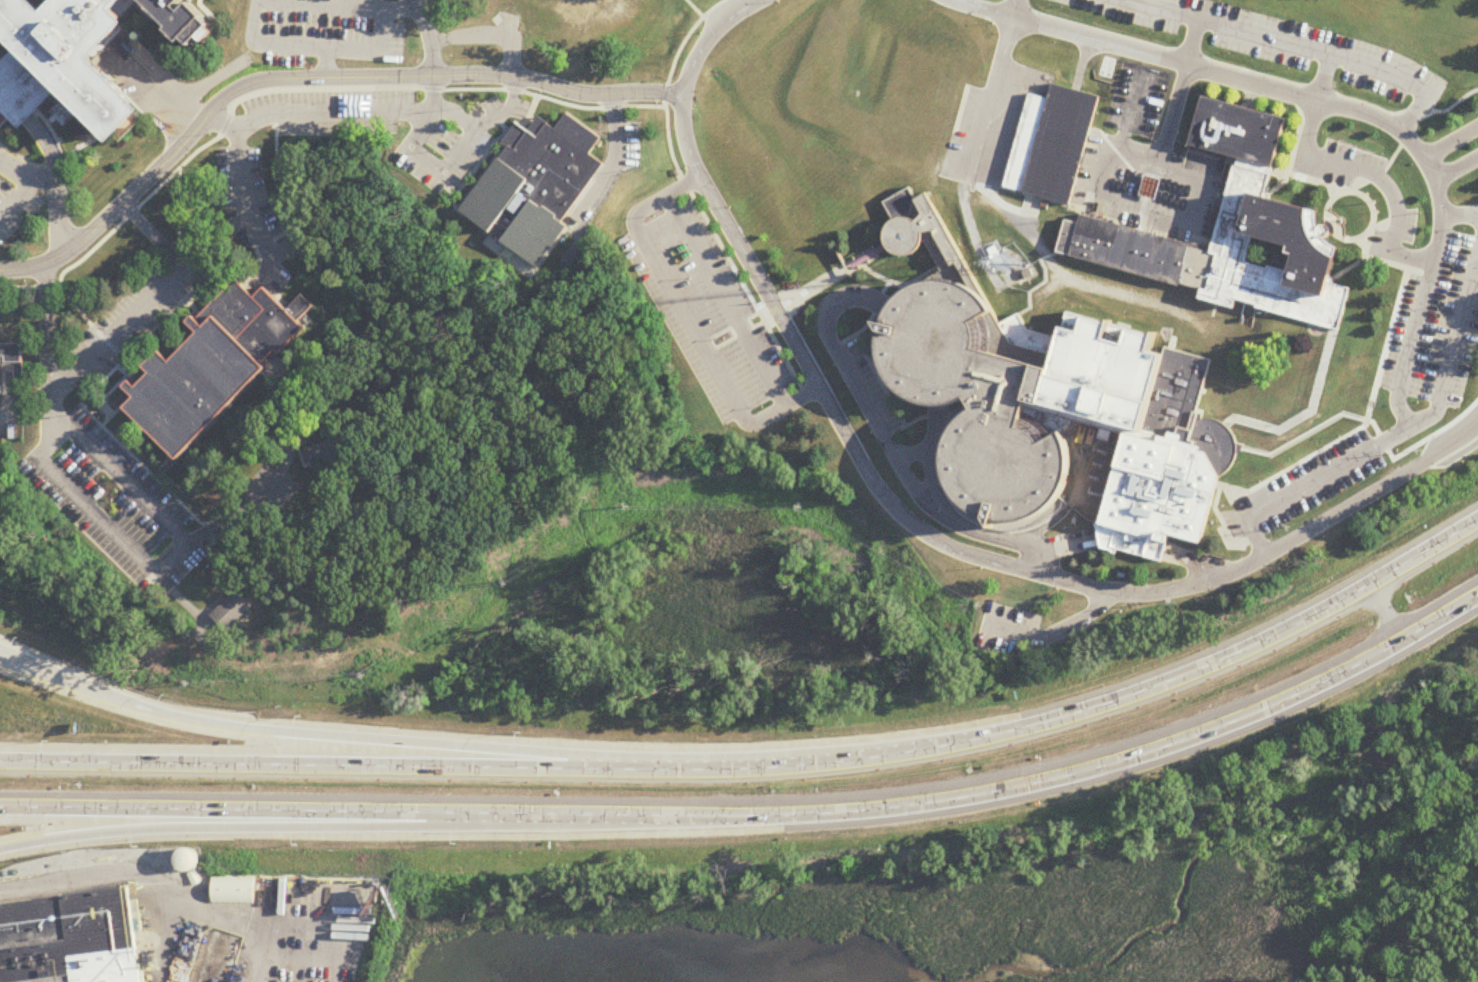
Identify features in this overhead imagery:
road: (322, 6)
road: (1014, 6)
road: (395, 7)
building: (595, 20)
road: (1309, 47)
building: (77, 54)
road: (306, 80)
road: (1063, 82)
road: (271, 90)
road: (17, 92)
road: (993, 92)
road: (1335, 97)
road: (665, 101)
road: (13, 106)
road: (168, 107)
road: (290, 115)
road: (525, 117)
road: (223, 123)
road: (500, 123)
parking lot: (391, 126)
road: (52, 132)
road: (1449, 141)
building: (1061, 144)
road: (46, 151)
road: (413, 153)
road: (480, 159)
road: (1354, 160)
road: (608, 163)
road: (31, 164)
road: (1101, 165)
parking lot: (608, 166)
road: (1454, 168)
building: (534, 184)
road: (58, 190)
road: (283, 190)
road: (17, 198)
road: (1459, 208)
building: (911, 224)
road: (194, 288)
road: (30, 289)
road: (146, 303)
road: (685, 320)
road: (1453, 347)
building: (10, 355)
building: (1125, 355)
building: (212, 366)
road: (117, 385)
road: (97, 406)
road: (4, 415)
road: (98, 429)
road: (889, 445)
building: (332, 461)
road: (1307, 485)
road: (165, 491)
road: (253, 509)
road: (93, 513)
road: (913, 526)
building: (230, 612)
road: (1055, 629)
road: (354, 742)
road: (764, 767)
road: (760, 817)
road: (284, 829)
building: (187, 861)
road: (158, 885)
building: (232, 892)
building: (70, 944)
building: (219, 958)

